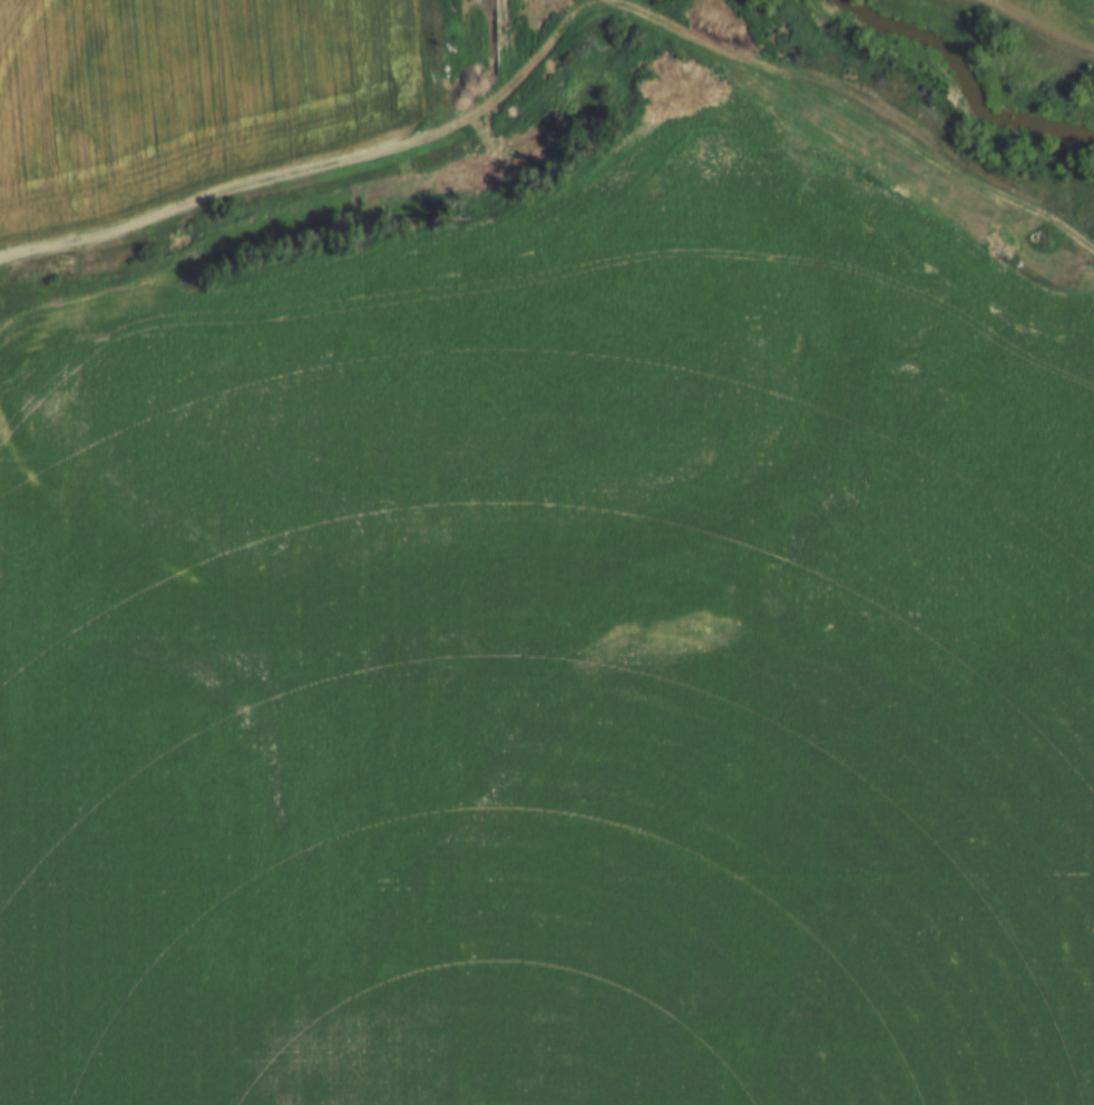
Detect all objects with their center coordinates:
road: (312, 165)
road: (733, 267)
road: (658, 638)
road: (260, 766)

